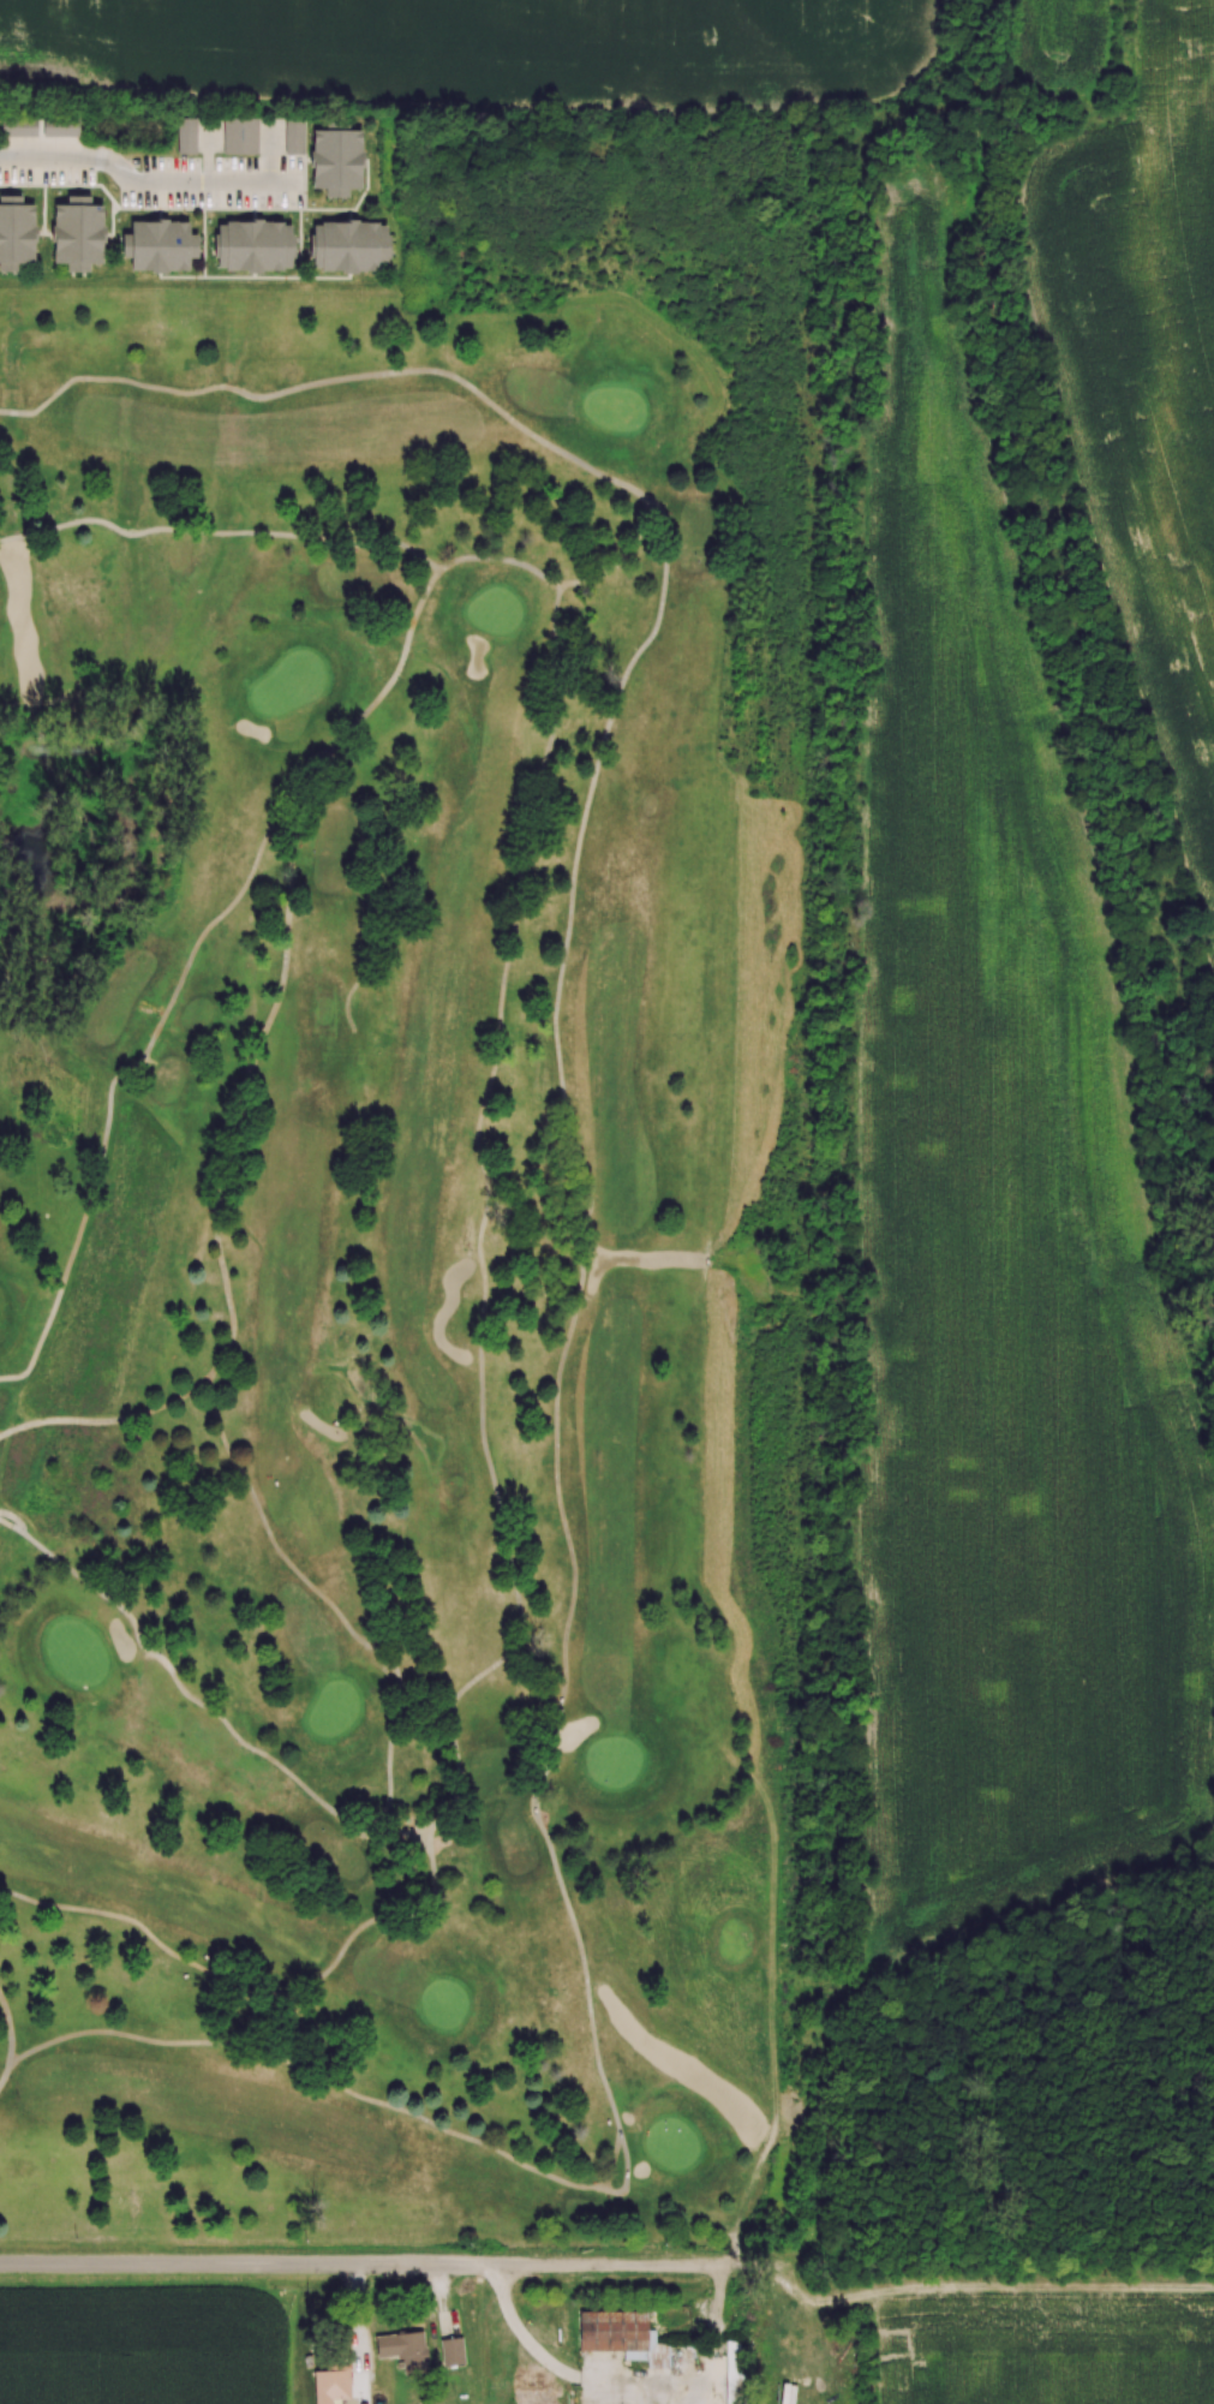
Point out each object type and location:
road: (144, 180)
crop: (1136, 335)
road: (335, 381)
road: (220, 532)
road: (500, 557)
road: (621, 563)
road: (397, 670)
road: (363, 837)
road: (346, 1006)
road: (140, 1066)
road: (251, 1066)
park: (417, 1215)
road: (482, 1228)
crop: (1003, 1241)
road: (108, 1422)
road: (16, 1517)
road: (12, 1526)
road: (333, 1606)
road: (563, 1658)
road: (185, 1694)
road: (395, 1836)
building: (447, 1842)
road: (257, 1994)
road: (11, 2028)
road: (5, 2075)
road: (358, 2263)
crop: (1047, 2346)
crop: (144, 2350)
road: (570, 2375)

